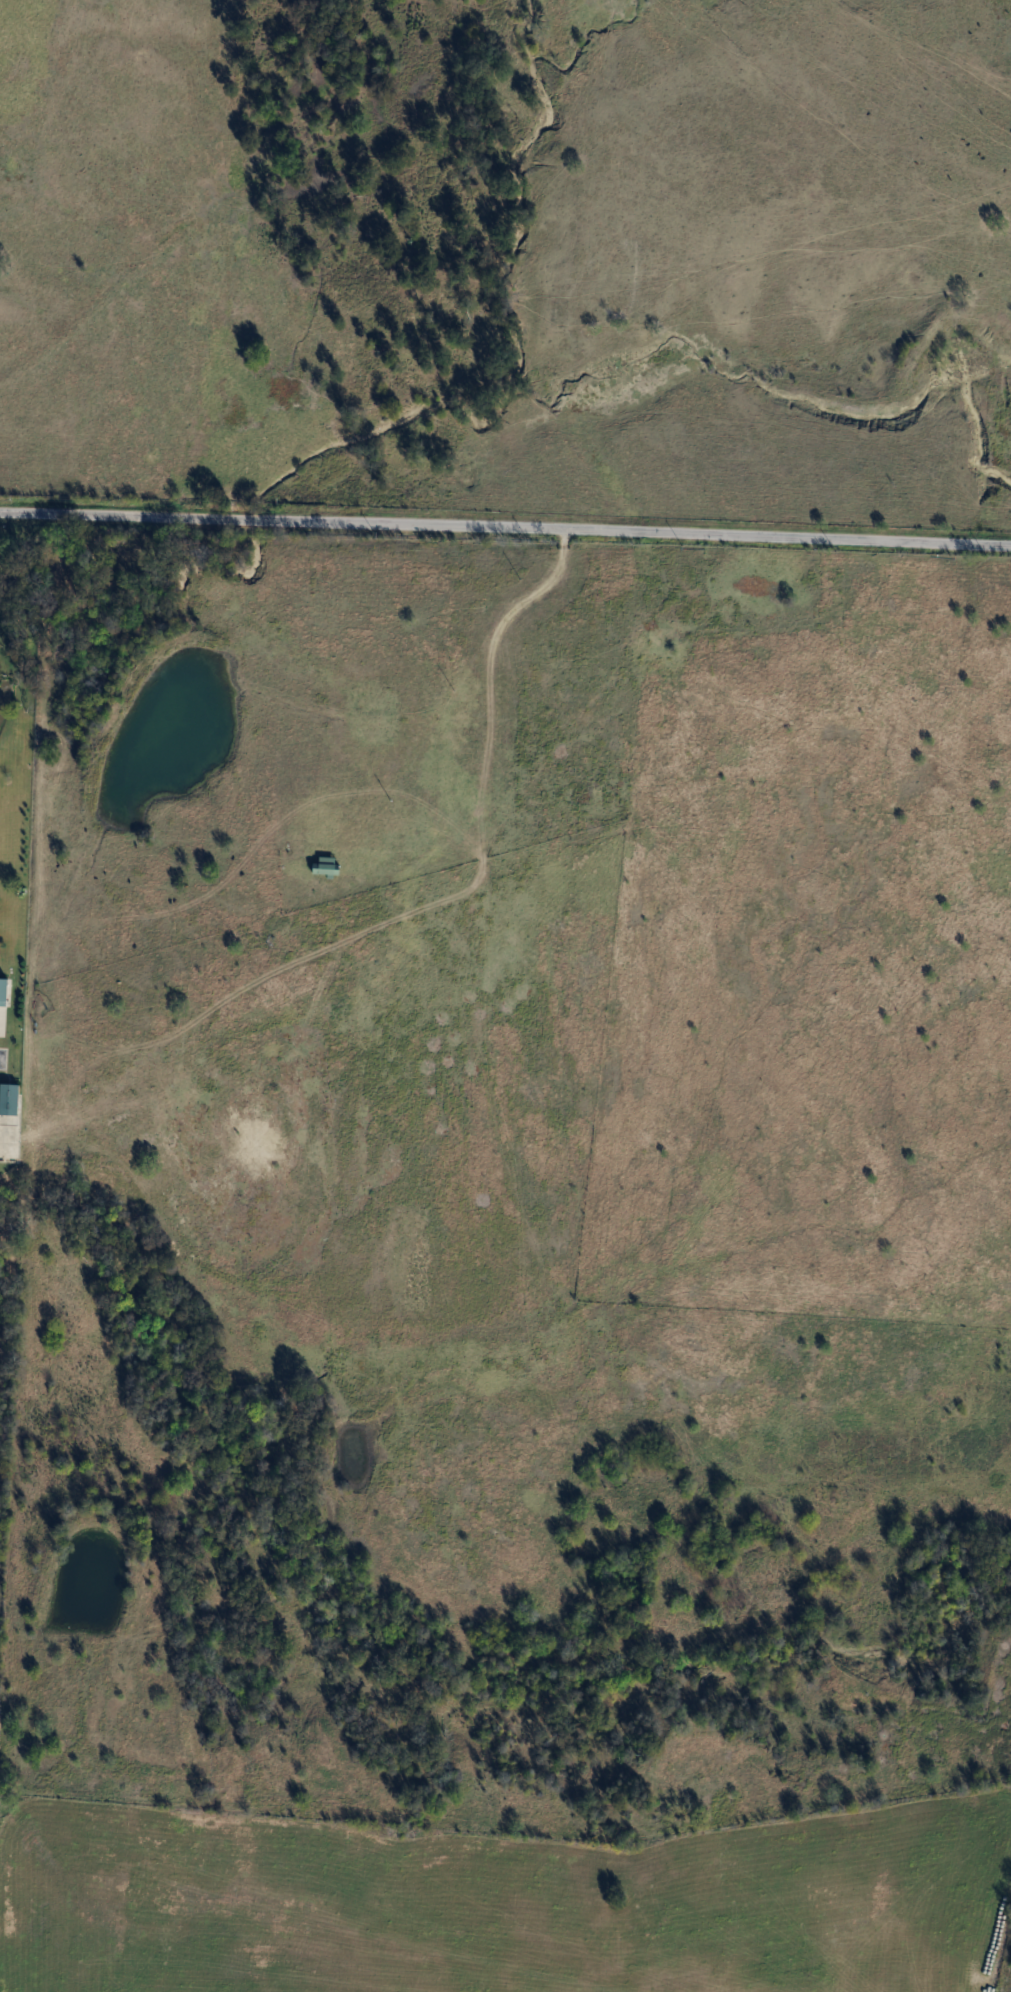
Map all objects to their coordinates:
road: (505, 527)
building: (660, 637)
building: (4, 990)
building: (11, 1098)
road: (3, 1140)

